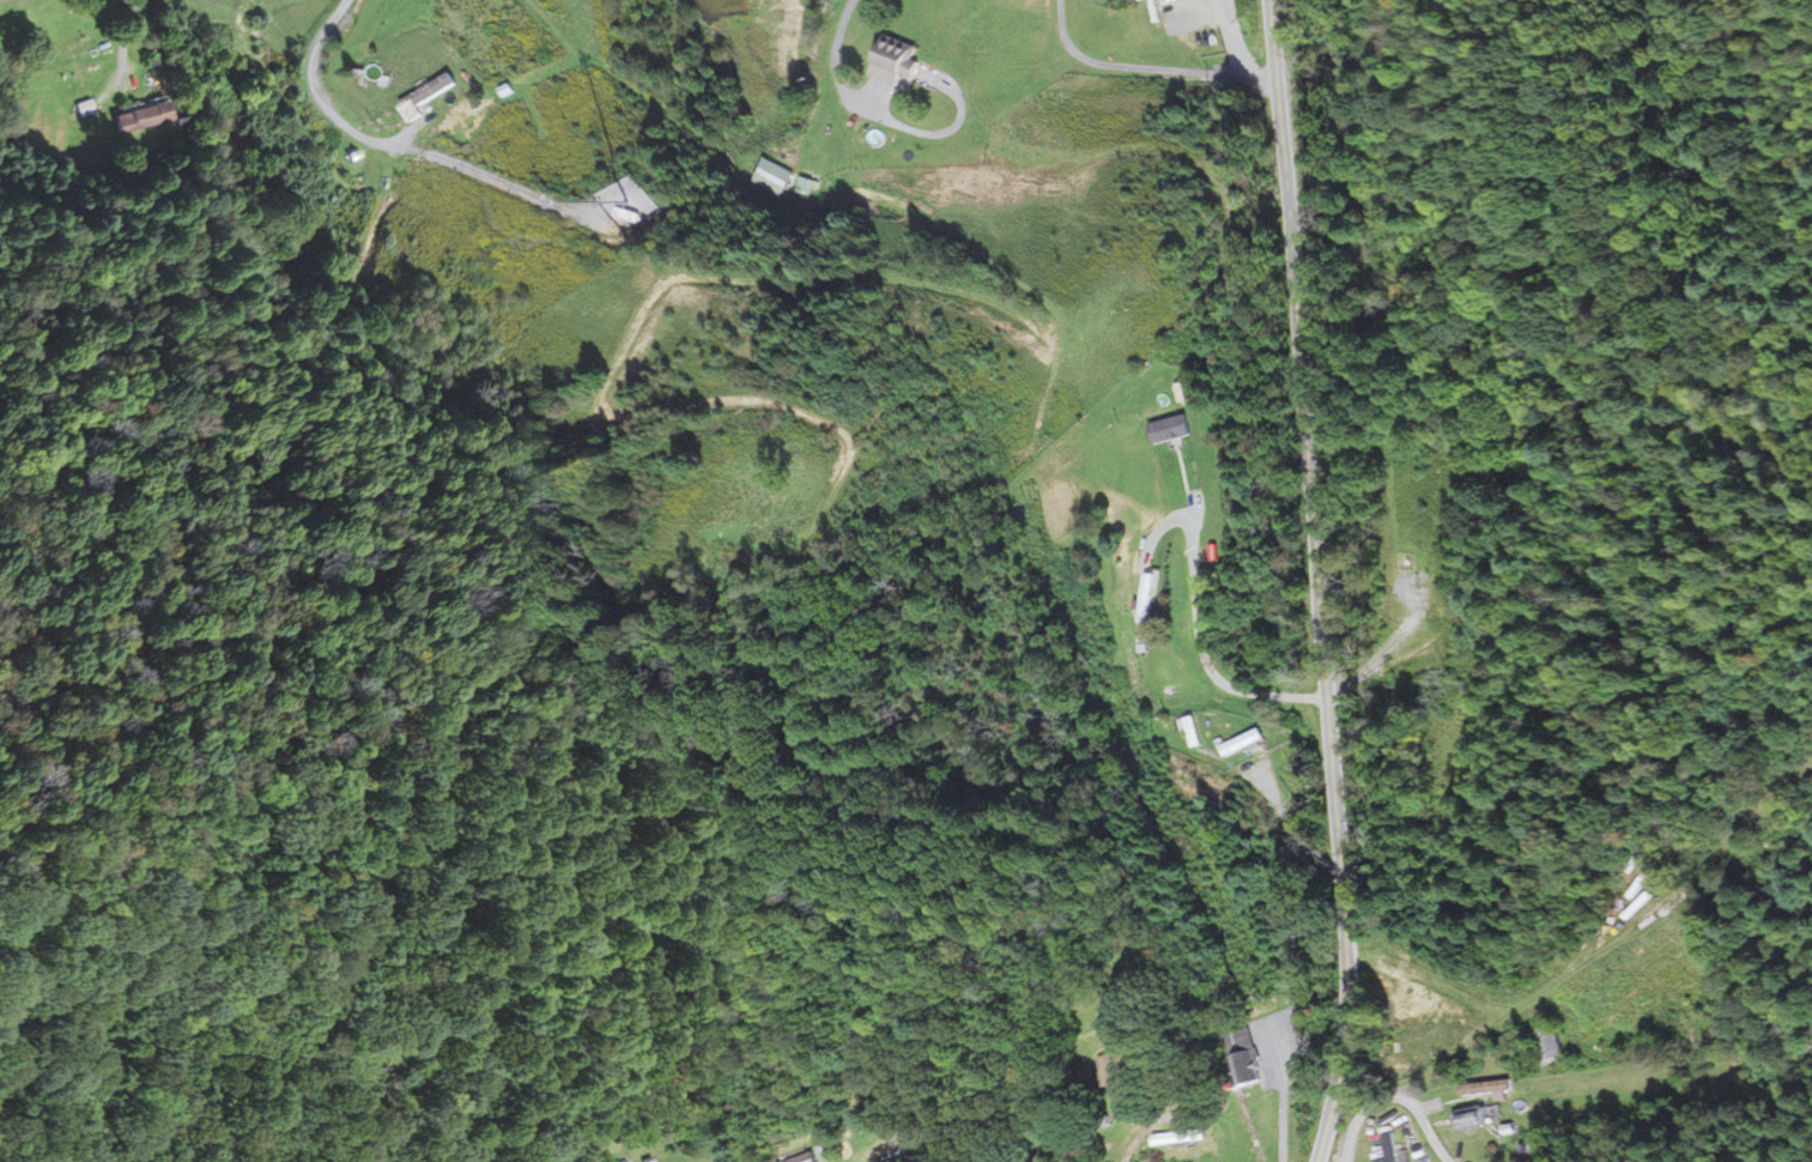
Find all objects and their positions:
road: (127, 29)
road: (843, 37)
road: (1146, 68)
road: (398, 149)
road: (1168, 518)
road: (1320, 581)
road: (1206, 655)
road: (1540, 1023)
road: (1401, 1097)
building: (802, 1158)
building: (631, 1161)

